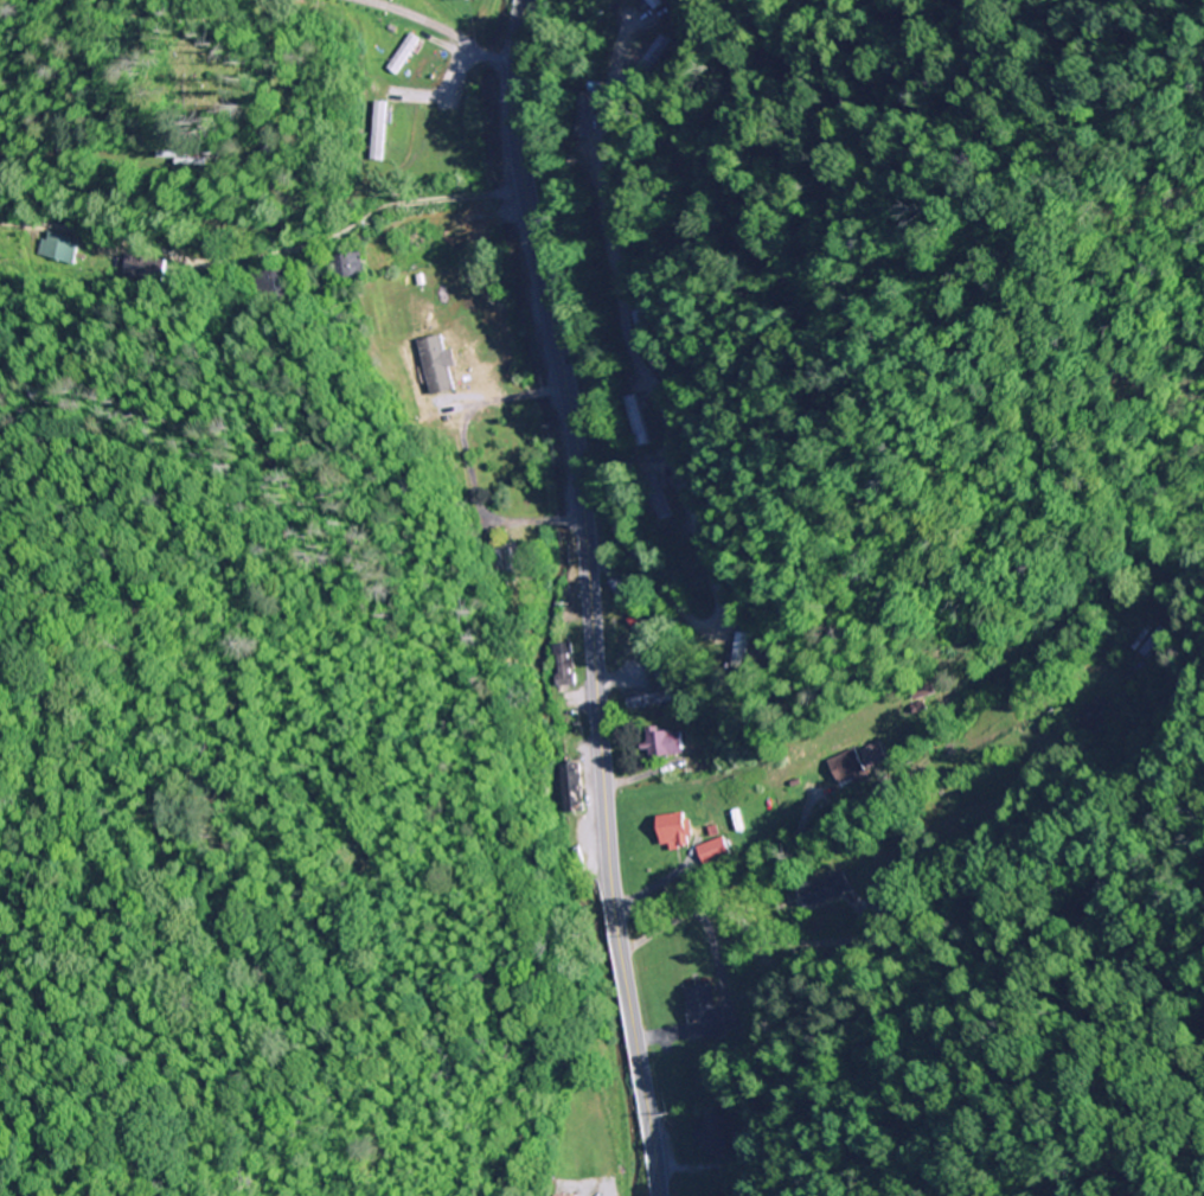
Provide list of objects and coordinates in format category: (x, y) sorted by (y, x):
road: (442, 31)
building: (404, 55)
building: (651, 59)
building: (585, 117)
building: (378, 132)
building: (58, 249)
road: (263, 256)
building: (348, 267)
building: (642, 332)
building: (639, 423)
road: (652, 486)
building: (660, 500)
building: (508, 561)
building: (690, 568)
building: (622, 595)
road: (588, 596)
building: (741, 645)
building: (652, 652)
building: (564, 667)
building: (649, 702)
building: (1094, 715)
building: (664, 744)
building: (853, 765)
building: (674, 832)
building: (715, 852)
road: (648, 900)
building: (705, 1013)
building: (712, 1138)

